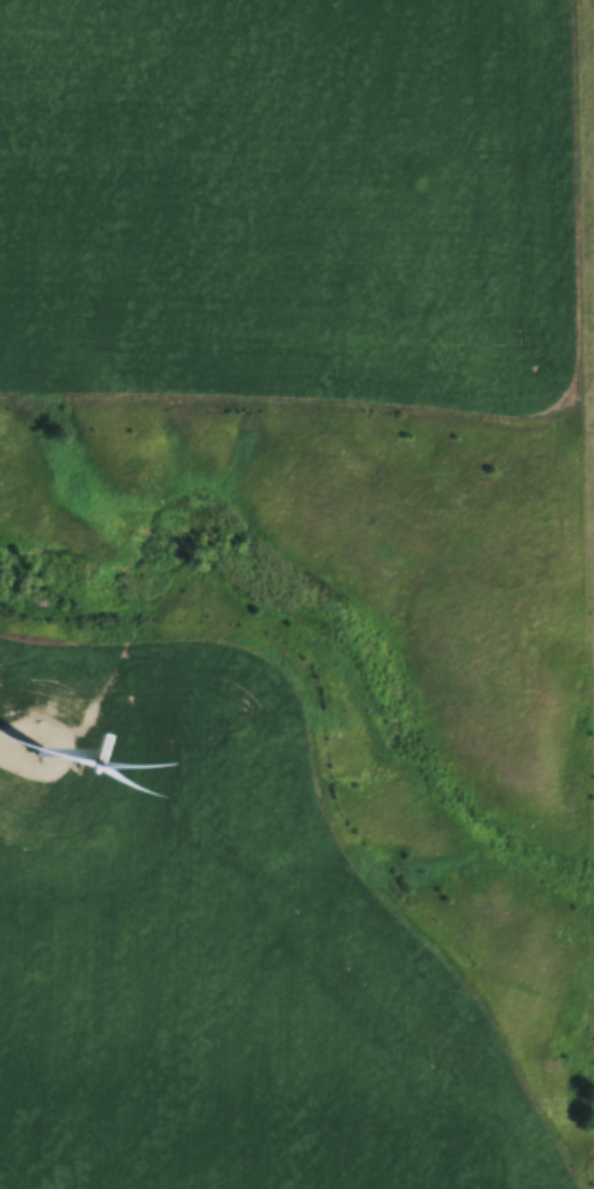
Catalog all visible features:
wind turbine: (46, 752)

